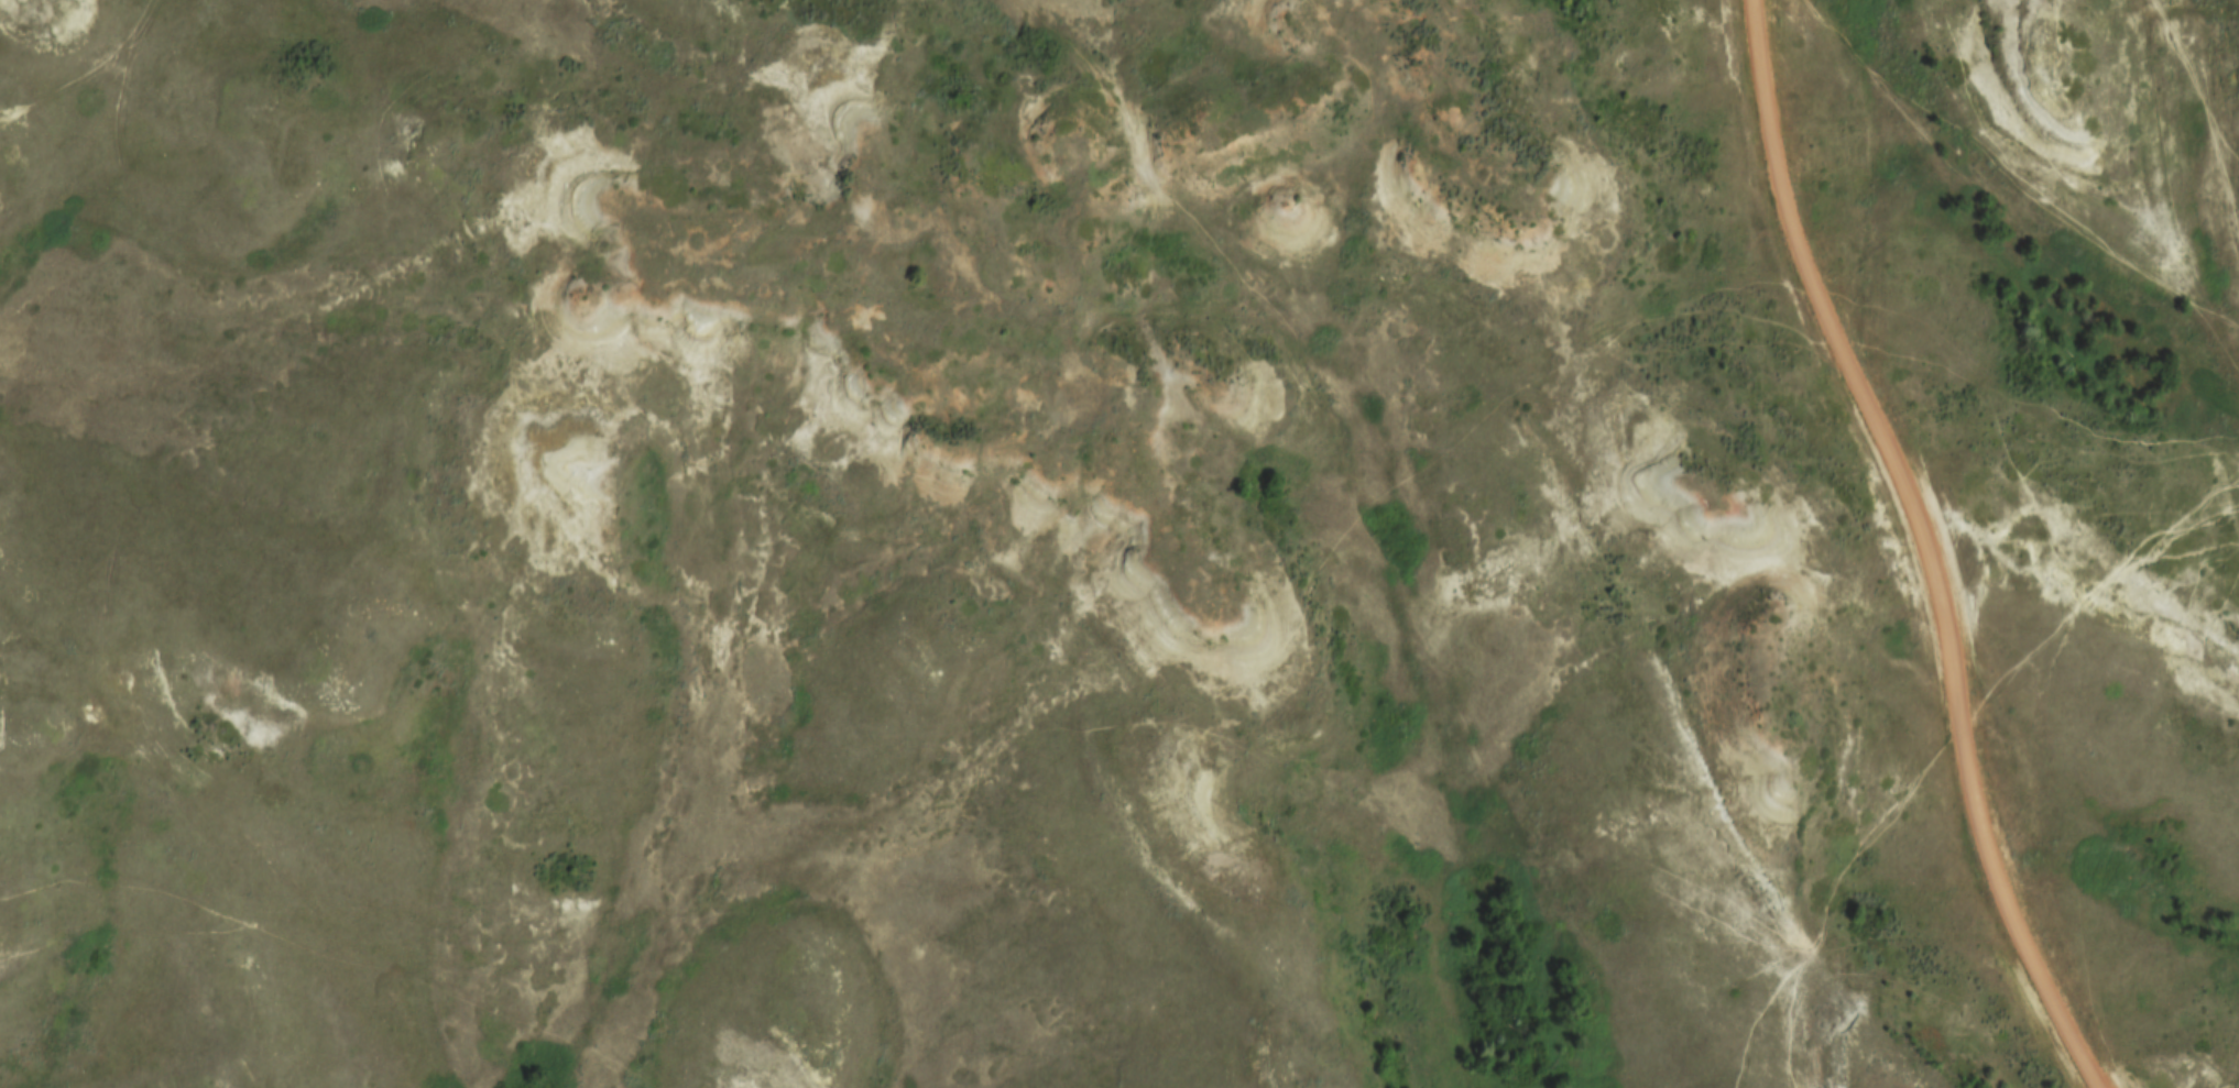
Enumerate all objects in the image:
road: (1930, 543)

